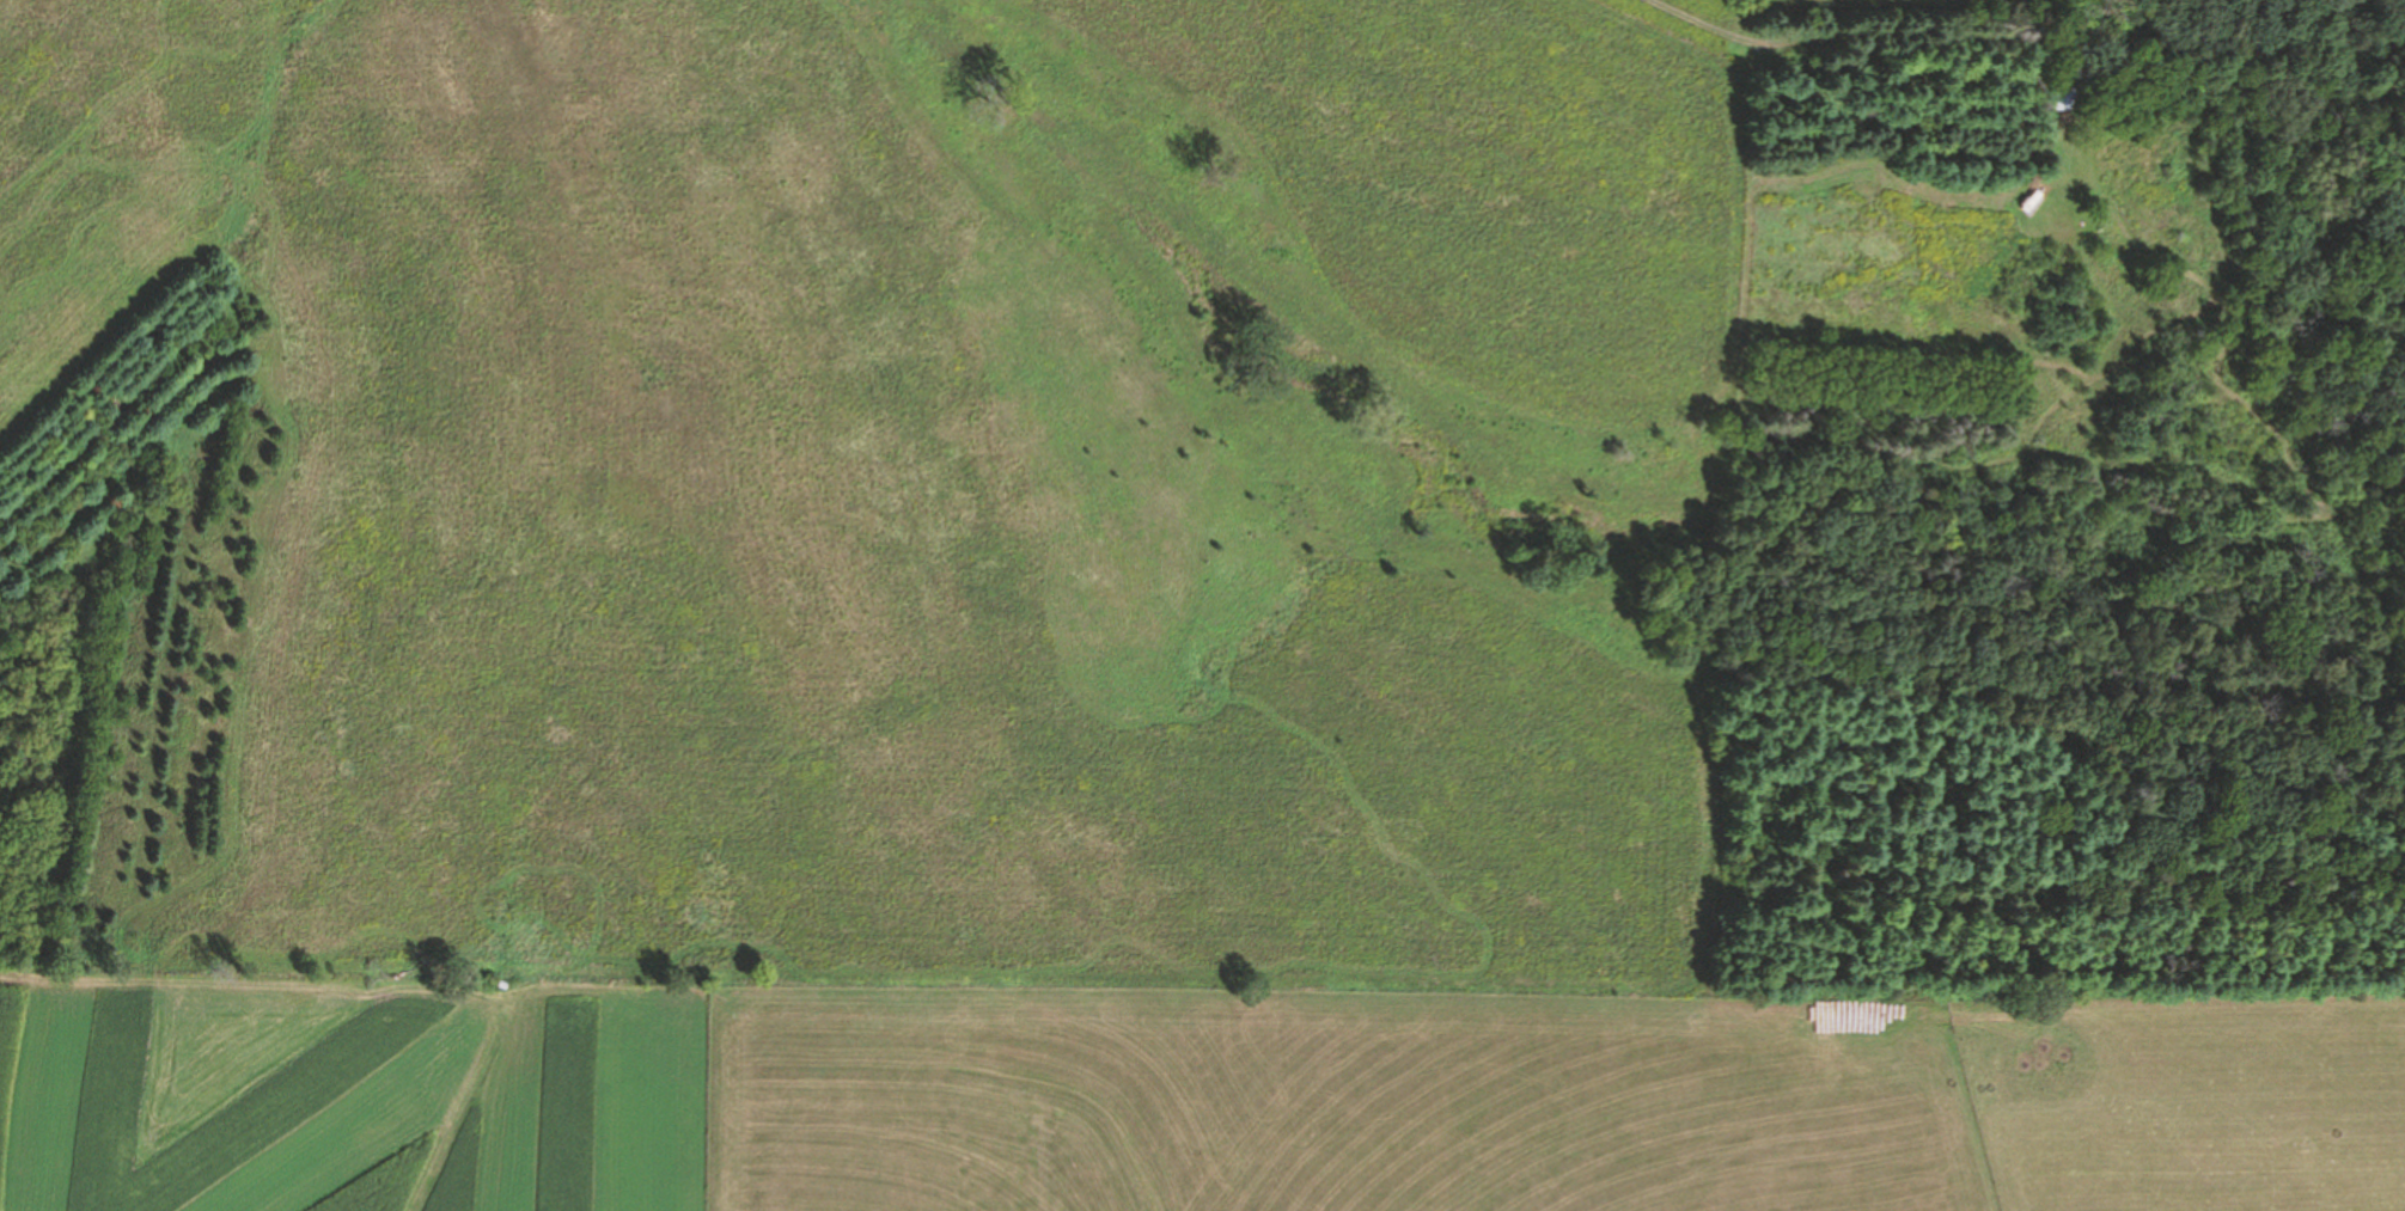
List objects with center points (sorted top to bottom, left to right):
building: (2065, 99)
building: (2033, 203)

